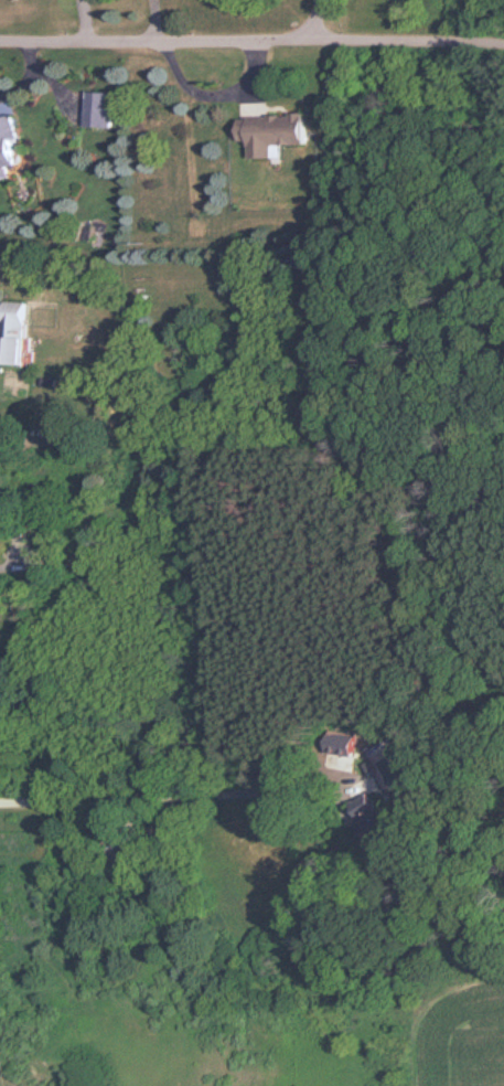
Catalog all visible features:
road: (251, 41)
building: (103, 110)
building: (277, 134)
building: (11, 146)
building: (17, 333)
building: (99, 544)
building: (392, 769)
building: (374, 821)
building: (128, 849)

